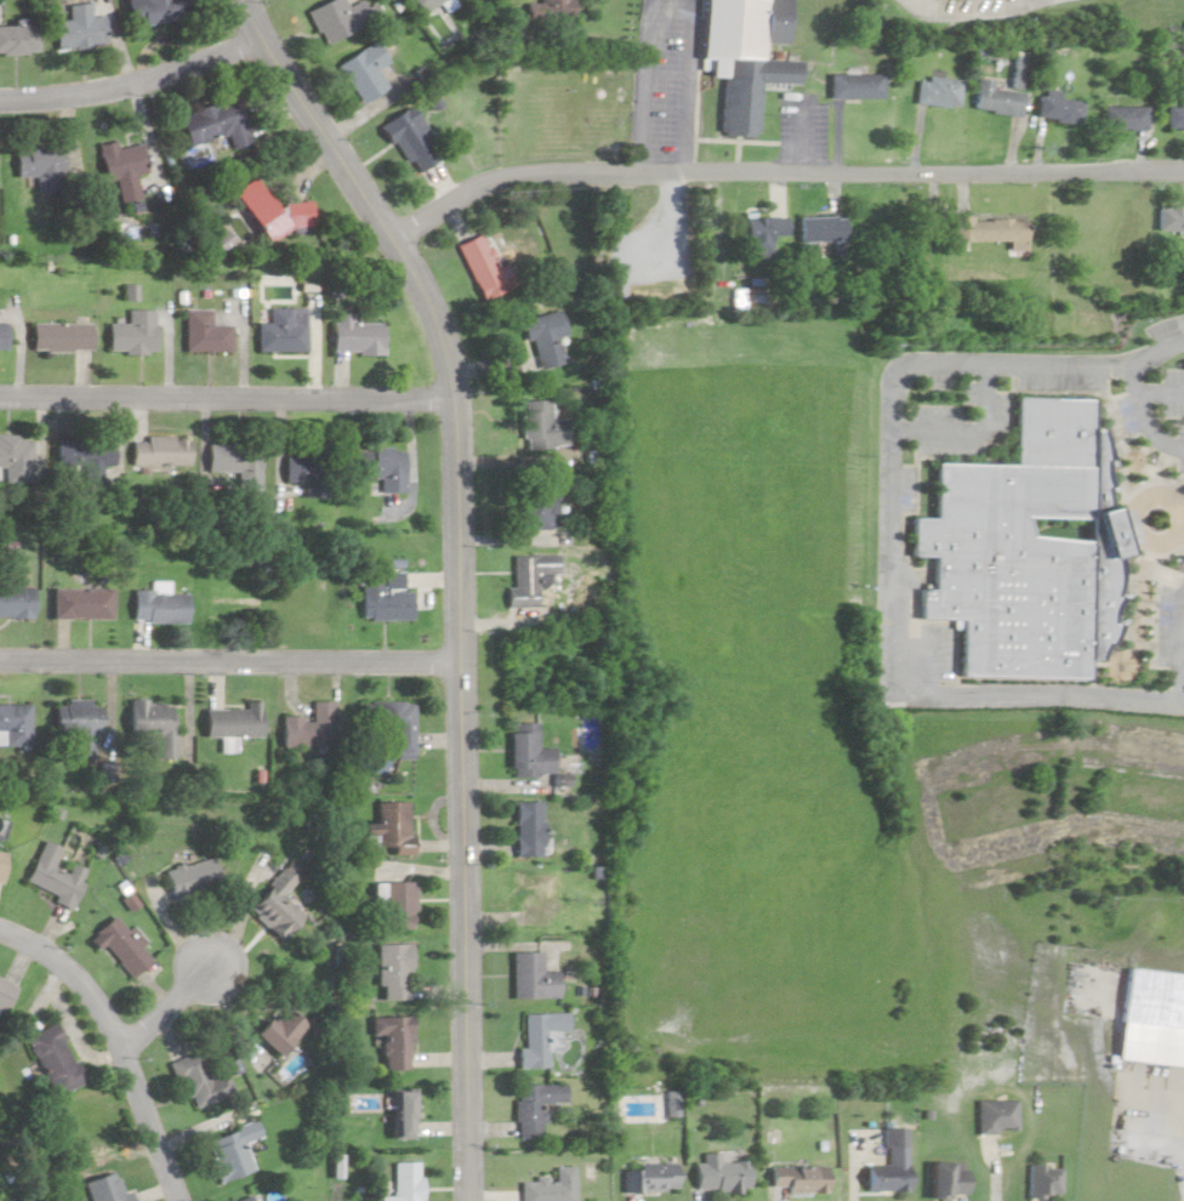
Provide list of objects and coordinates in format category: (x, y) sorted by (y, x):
building: (426, 5)
building: (552, 7)
road: (969, 10)
building: (155, 11)
building: (338, 18)
building: (79, 28)
building: (18, 40)
building: (742, 55)
building: (366, 70)
road: (133, 84)
building: (852, 86)
road: (683, 87)
building: (935, 92)
building: (997, 93)
building: (1055, 108)
building: (1174, 116)
building: (1120, 118)
building: (218, 121)
building: (412, 138)
building: (42, 165)
building: (123, 167)
road: (779, 173)
road: (359, 193)
building: (271, 211)
building: (1169, 220)
building: (818, 229)
building: (985, 229)
building: (758, 234)
building: (480, 268)
building: (284, 331)
building: (136, 332)
building: (206, 332)
building: (4, 336)
building: (62, 336)
building: (358, 336)
building: (542, 338)
road: (1160, 392)
road: (227, 397)
road: (1143, 416)
building: (540, 425)
road: (973, 431)
building: (161, 451)
building: (16, 452)
building: (87, 456)
building: (238, 463)
building: (386, 468)
building: (309, 473)
road: (1143, 500)
building: (536, 501)
road: (1180, 505)
road: (895, 520)
road: (1183, 522)
building: (1028, 553)
building: (526, 576)
building: (378, 599)
building: (16, 602)
building: (79, 603)
building: (155, 607)
road: (1180, 659)
road: (228, 660)
road: (1182, 662)
building: (230, 721)
building: (15, 723)
building: (150, 723)
building: (76, 724)
building: (392, 724)
building: (304, 728)
building: (525, 756)
road: (459, 799)
building: (387, 826)
building: (525, 829)
building: (0, 858)
building: (51, 876)
building: (188, 878)
building: (534, 899)
building: (389, 905)
building: (273, 906)
building: (116, 947)
building: (389, 972)
building: (529, 978)
building: (2, 991)
road: (164, 1007)
building: (1152, 1019)
building: (275, 1030)
building: (539, 1038)
building: (391, 1041)
road: (114, 1045)
building: (50, 1059)
building: (197, 1082)
building: (534, 1106)
building: (397, 1114)
building: (996, 1116)
building: (230, 1150)
building: (889, 1163)
building: (718, 1174)
building: (647, 1177)
building: (797, 1179)
building: (945, 1179)
building: (1041, 1180)
building: (402, 1182)
building: (548, 1186)
building: (101, 1189)
building: (244, 1200)

